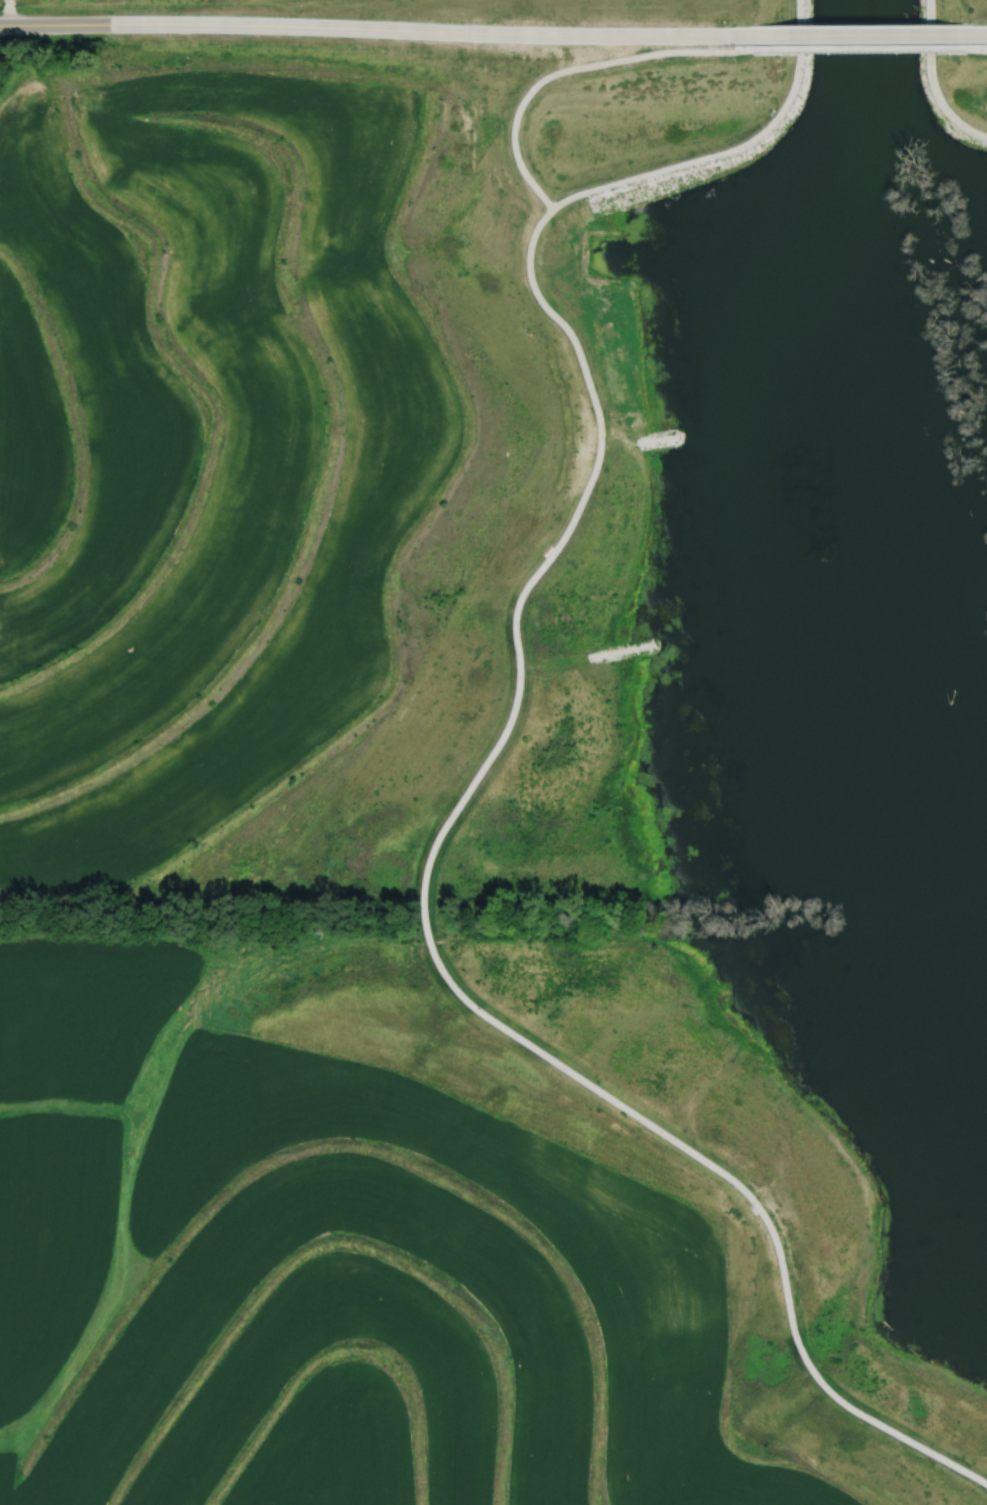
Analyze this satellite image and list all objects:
road: (384, 30)
road: (978, 33)
road: (869, 34)
road: (980, 48)
road: (869, 49)
road: (583, 64)
road: (933, 82)
road: (636, 441)
road: (586, 660)
park: (695, 669)
road: (479, 772)

